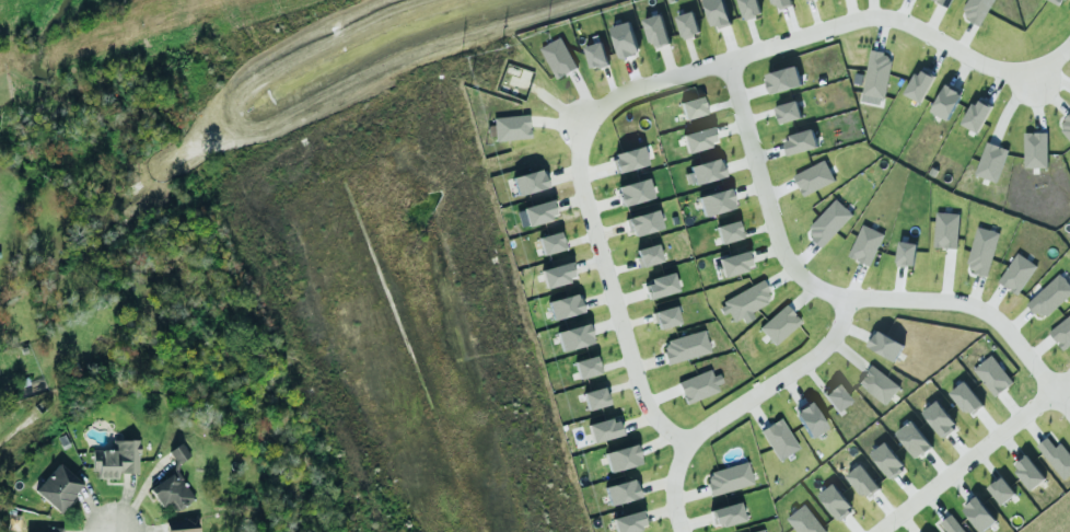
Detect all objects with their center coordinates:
building: (1055, 1)
building: (780, 2)
building: (942, 2)
building: (747, 8)
road: (872, 8)
road: (850, 9)
road: (903, 9)
building: (975, 9)
building: (717, 12)
street lamp: (909, 12)
road: (814, 15)
road: (932, 19)
road: (905, 21)
building: (686, 23)
road: (789, 23)
building: (654, 30)
road: (880, 32)
road: (752, 34)
street lamp: (831, 36)
road: (963, 36)
building: (623, 38)
road: (728, 42)
street lamp: (712, 53)
building: (595, 54)
road: (690, 54)
road: (935, 56)
building: (557, 57)
street lamp: (1067, 59)
road: (666, 61)
road: (959, 70)
road: (630, 72)
building: (875, 73)
street lamp: (979, 73)
road: (1050, 77)
building: (857, 78)
building: (781, 79)
road: (608, 81)
building: (899, 81)
building: (918, 84)
road: (995, 84)
street lamp: (722, 86)
road: (751, 91)
road: (1047, 91)
road: (582, 95)
street lamp: (642, 95)
road: (546, 99)
street lamp: (566, 100)
road: (1034, 100)
building: (944, 102)
road: (723, 103)
road: (1009, 104)
street lamp: (1043, 105)
building: (693, 106)
building: (786, 111)
road: (756, 114)
building: (975, 115)
road: (554, 123)
building: (1066, 125)
building: (509, 127)
road: (729, 127)
building: (698, 138)
building: (800, 141)
building: (1034, 148)
road: (767, 152)
street lamp: (568, 153)
building: (628, 159)
building: (989, 161)
road: (738, 162)
road: (595, 171)
building: (703, 171)
road: (562, 173)
street lamp: (748, 175)
building: (813, 176)
building: (530, 181)
road: (747, 188)
road: (780, 188)
building: (633, 192)
road: (569, 200)
building: (714, 201)
road: (602, 204)
building: (538, 211)
road: (589, 215)
building: (931, 216)
building: (828, 221)
building: (642, 222)
road: (758, 228)
building: (944, 229)
road: (608, 230)
building: (728, 231)
road: (580, 238)
building: (550, 242)
building: (864, 243)
street lamp: (588, 244)
building: (980, 250)
road: (766, 251)
building: (905, 252)
building: (647, 255)
road: (802, 255)
building: (733, 263)
road: (588, 264)
street lamp: (780, 266)
road: (620, 267)
building: (1015, 273)
road: (945, 274)
building: (551, 276)
road: (780, 276)
road: (854, 280)
road: (895, 281)
building: (660, 285)
street lamp: (873, 287)
street lamp: (955, 290)
road: (975, 290)
road: (833, 293)
road: (628, 296)
building: (1049, 296)
road: (803, 297)
road: (992, 298)
road: (598, 299)
building: (745, 300)
building: (565, 305)
building: (665, 316)
road: (1017, 320)
road: (635, 321)
street lamp: (827, 323)
road: (605, 324)
building: (778, 324)
road: (853, 331)
building: (1061, 332)
building: (573, 336)
street lamp: (615, 339)
street lamp: (1026, 340)
building: (884, 344)
building: (685, 346)
road: (1032, 351)
road: (847, 354)
road: (616, 362)
road: (648, 362)
building: (586, 366)
building: (991, 373)
street lamp: (1030, 374)
road: (813, 375)
building: (876, 383)
road: (623, 384)
building: (698, 385)
road: (792, 389)
street lamp: (774, 394)
road: (662, 395)
building: (835, 396)
building: (595, 397)
building: (965, 397)
road: (1061, 398)
road: (740, 404)
road: (1009, 404)
road: (755, 413)
street lamp: (1061, 416)
building: (938, 417)
building: (807, 418)
road: (637, 421)
road: (986, 423)
road: (1031, 427)
building: (603, 429)
street lamp: (655, 431)
street lamp: (714, 432)
building: (912, 438)
building: (778, 439)
road: (654, 442)
road: (1009, 444)
road: (957, 446)
road: (973, 453)
building: (1056, 455)
building: (620, 458)
building: (115, 459)
building: (886, 459)
street lamp: (949, 460)
road: (935, 463)
road: (986, 463)
building: (1027, 472)
building: (613, 474)
building: (728, 477)
building: (861, 481)
road: (656, 483)
road: (958, 485)
building: (58, 487)
road: (906, 487)
building: (1000, 489)
building: (620, 491)
road: (689, 494)
building: (834, 500)
road: (933, 504)
road: (883, 506)
road: (660, 511)
building: (978, 512)
building: (725, 513)
building: (804, 520)
building: (628, 521)
road: (694, 522)
road: (905, 523)
building: (951, 523)
road: (850, 524)
building: (181, 525)
street lamp: (668, 527)
building: (54, 529)
road: (111, 531)
building: (757, 531)
street lamp: (891, 531)

